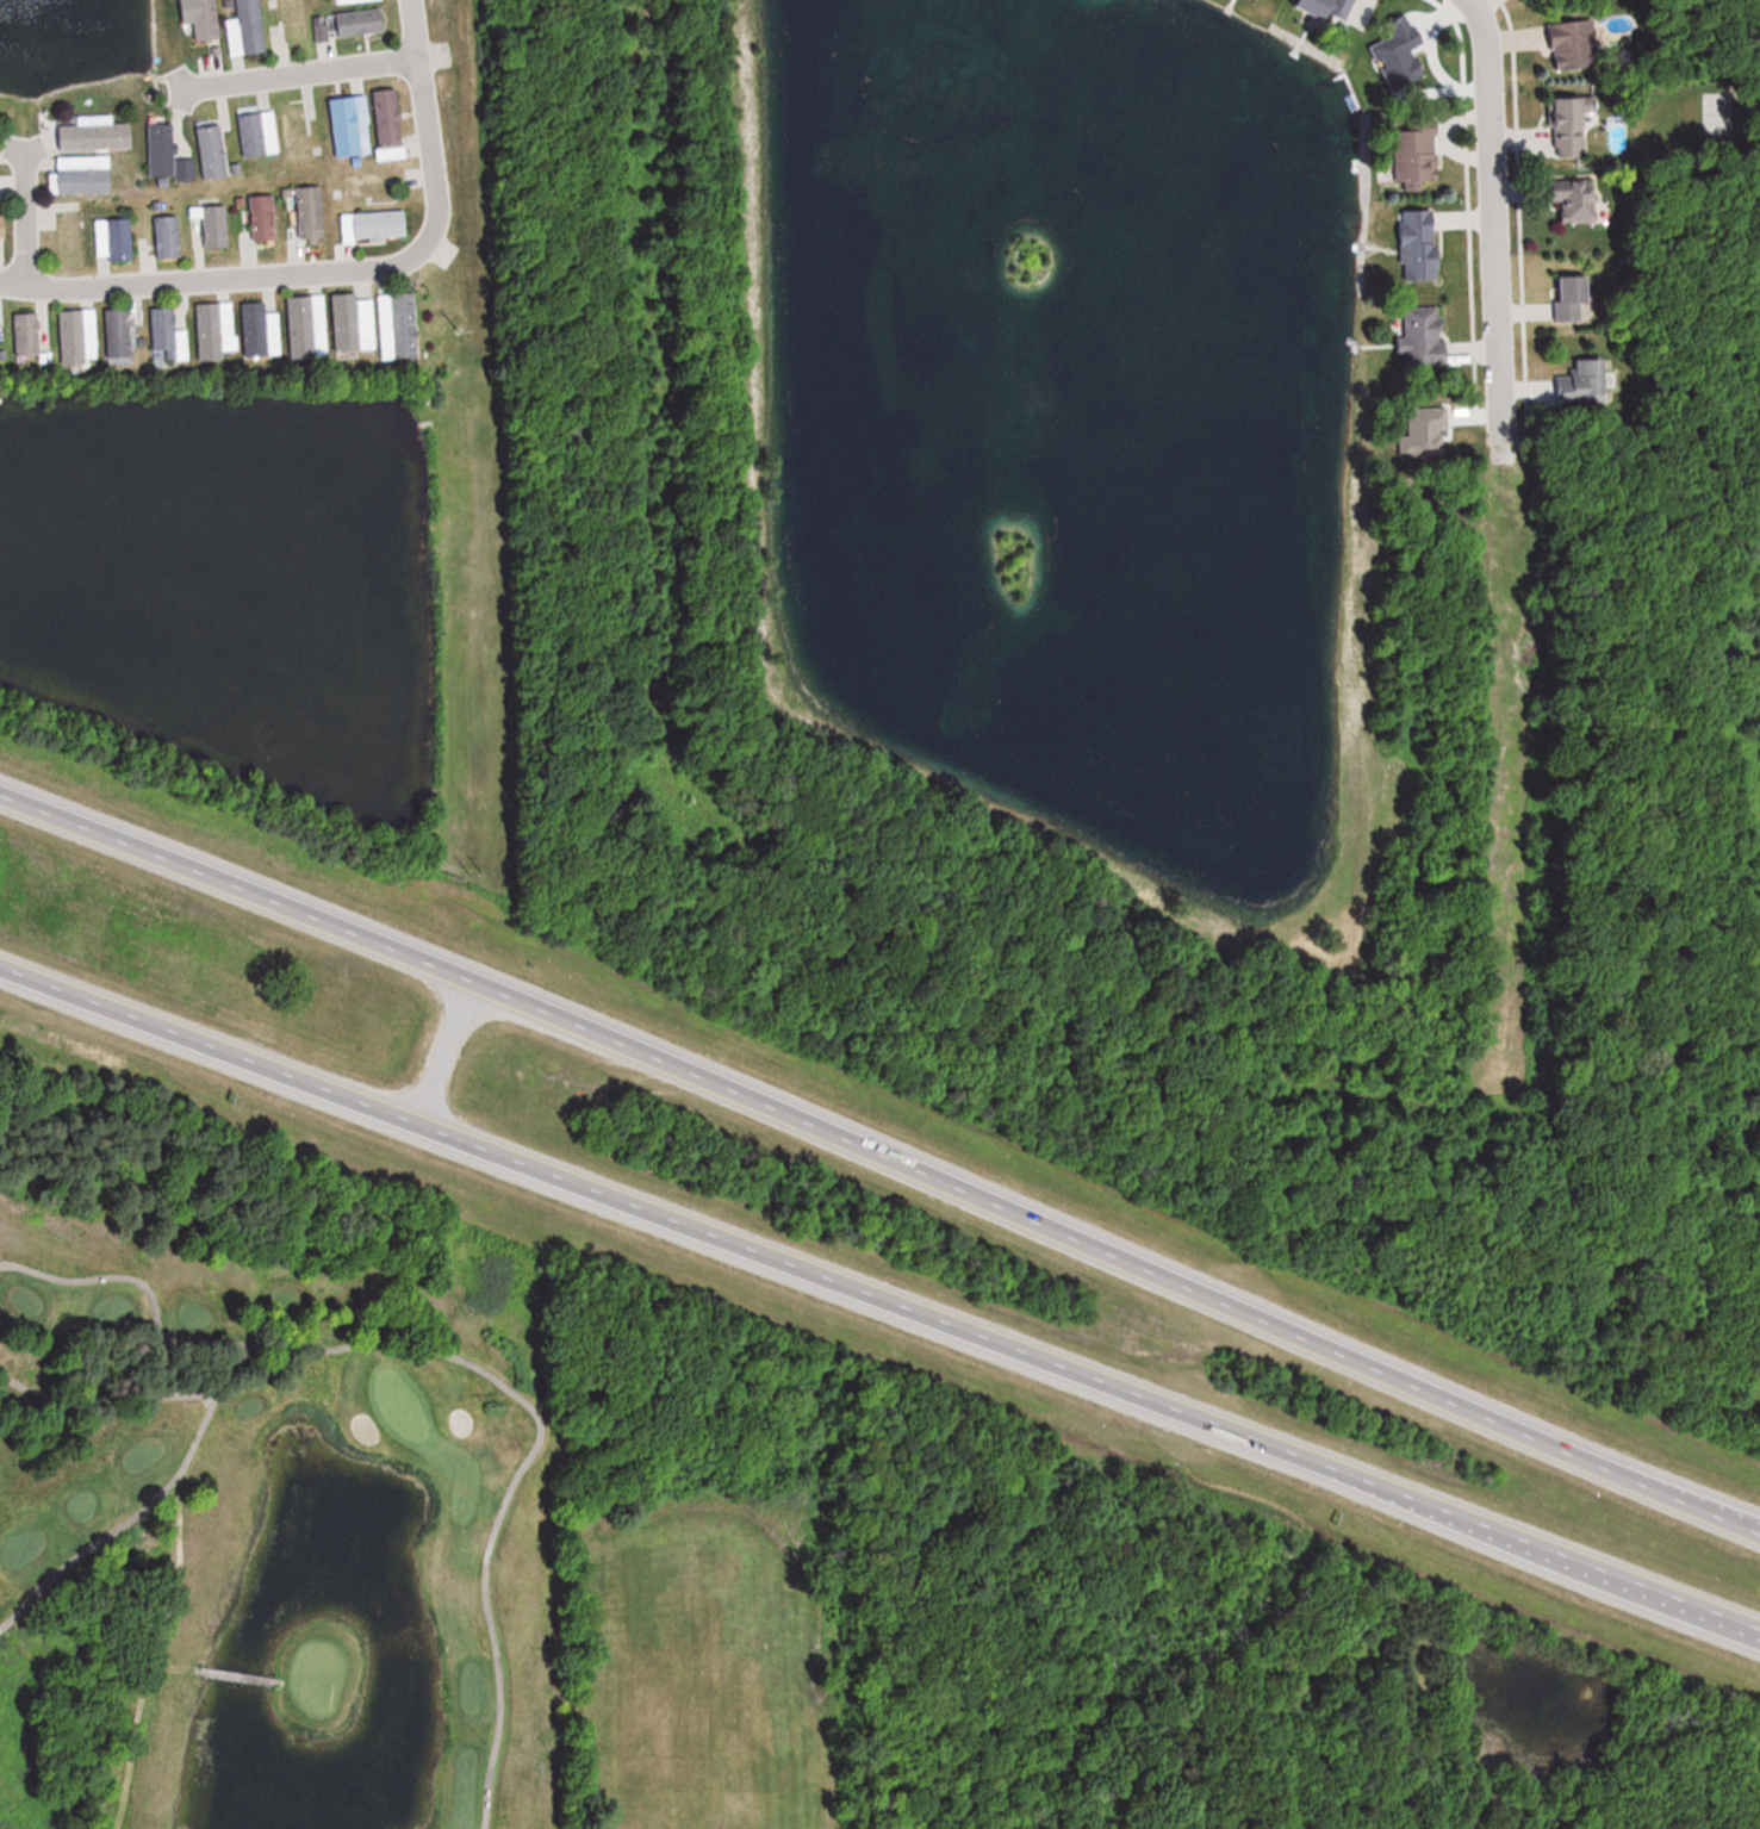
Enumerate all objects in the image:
building: (354, 1)
building: (1326, 6)
building: (206, 19)
building: (294, 19)
building: (361, 21)
building: (245, 26)
building: (322, 27)
building: (1568, 45)
road: (299, 74)
building: (388, 118)
building: (348, 126)
building: (1569, 126)
building: (293, 127)
building: (257, 131)
building: (97, 136)
building: (212, 149)
building: (1420, 150)
building: (166, 153)
building: (85, 174)
building: (6, 186)
building: (1573, 199)
building: (310, 211)
road: (24, 219)
building: (260, 219)
building: (216, 225)
building: (374, 225)
road: (1494, 225)
building: (2, 226)
building: (168, 236)
building: (114, 238)
building: (1422, 245)
road: (338, 269)
building: (1568, 298)
building: (347, 321)
building: (405, 324)
power tower: (455, 324)
building: (163, 328)
building: (254, 328)
building: (304, 328)
building: (209, 331)
building: (26, 332)
building: (119, 334)
building: (1425, 335)
building: (73, 336)
building: (1578, 385)
power tower: (475, 867)
road: (879, 1162)
road: (128, 1277)
road: (879, 1300)
power tower: (496, 1400)
park: (400, 1406)
road: (537, 1439)
road: (192, 1445)
park: (263, 1461)

